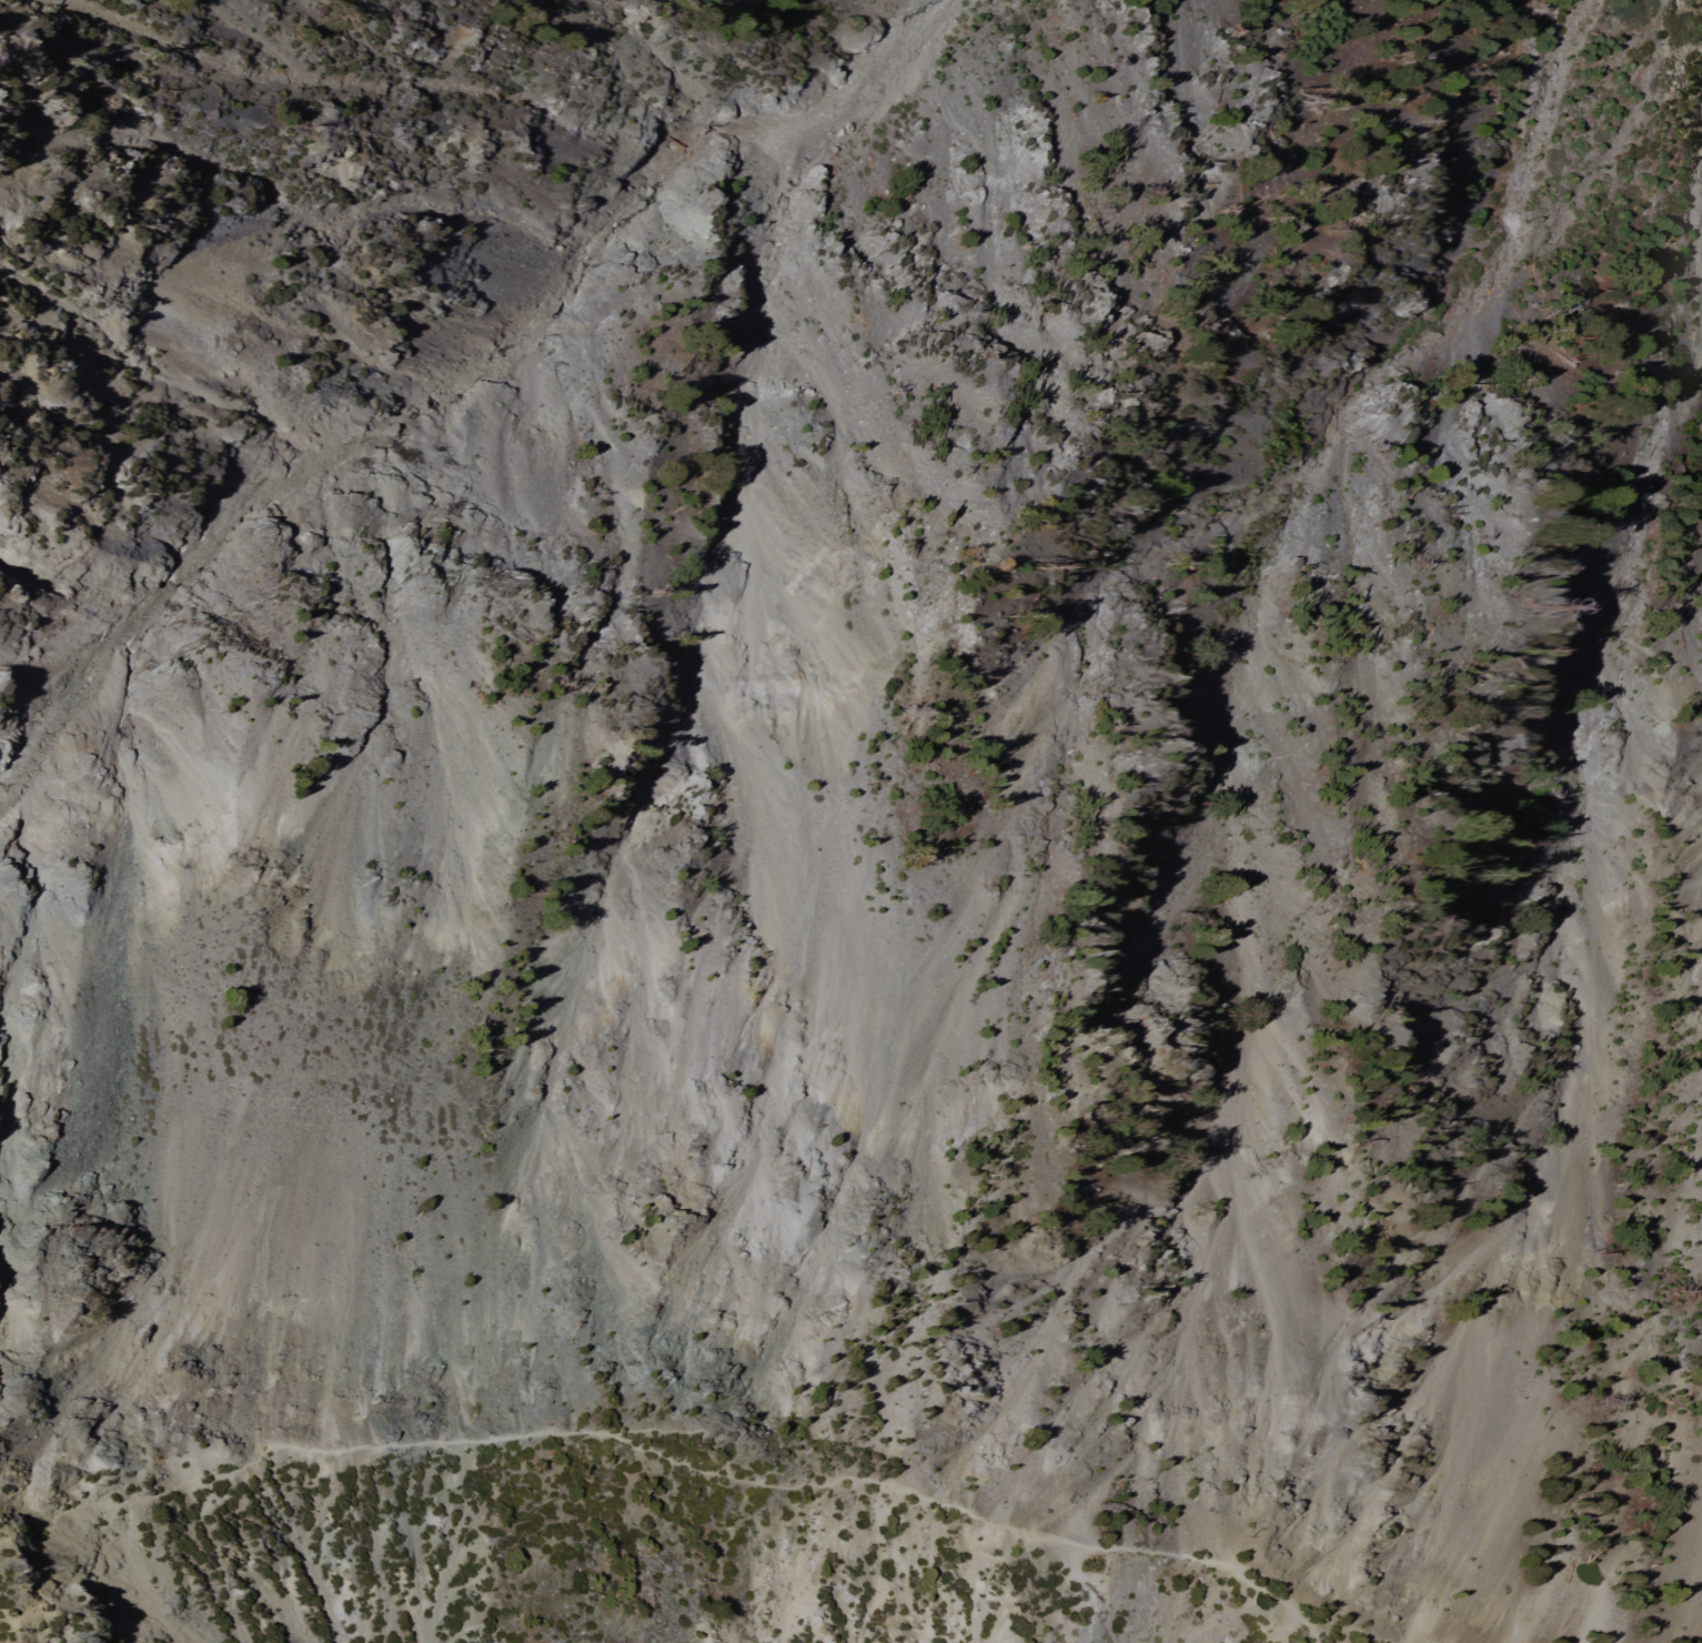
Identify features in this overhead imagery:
road: (632, 1444)

